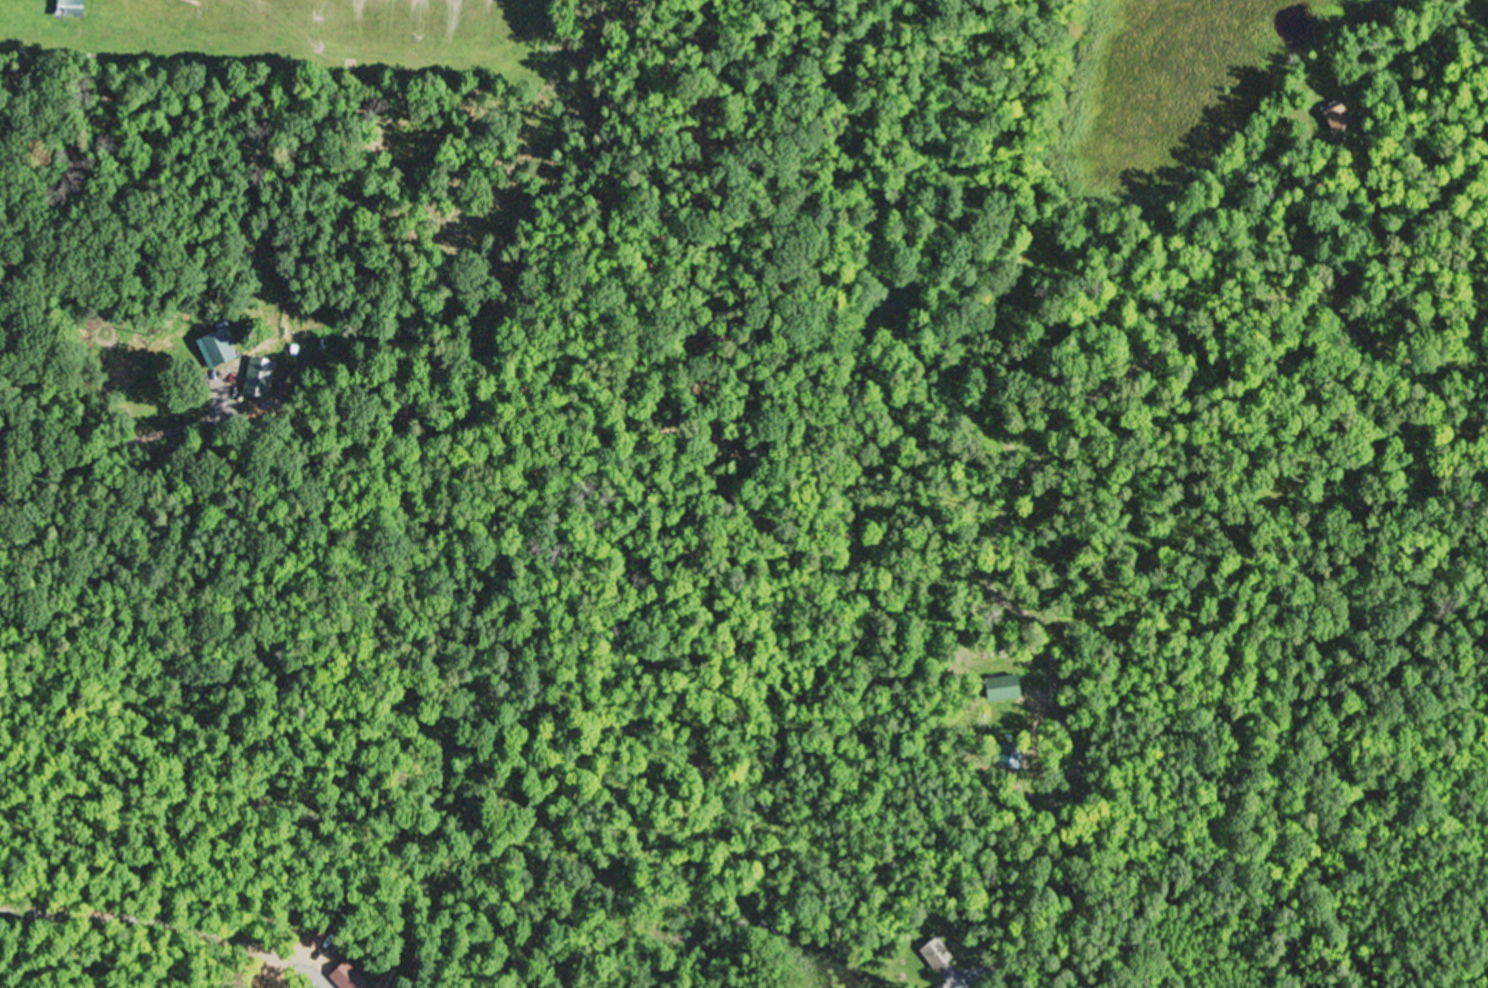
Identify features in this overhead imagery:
road: (1064, 892)
road: (167, 924)

